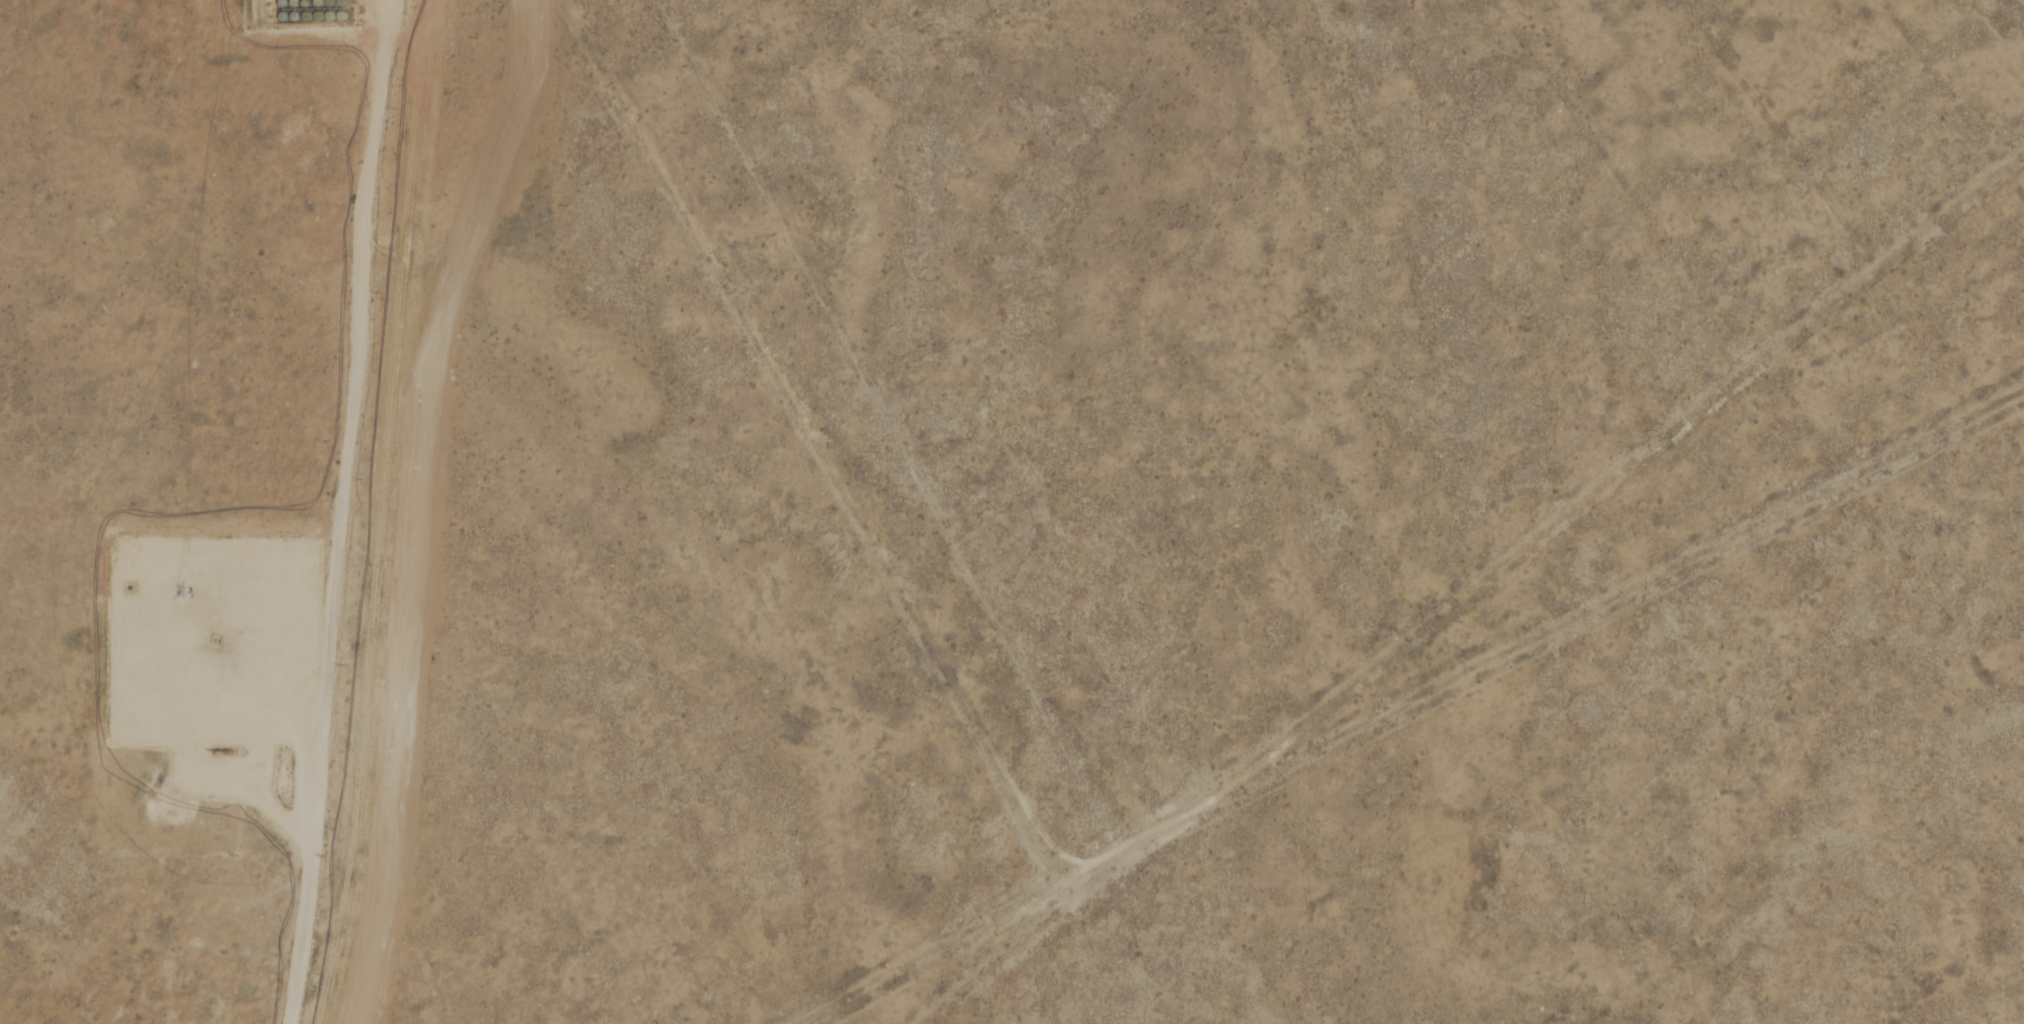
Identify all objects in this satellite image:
road: (327, 511)
petroleum well: (215, 742)

